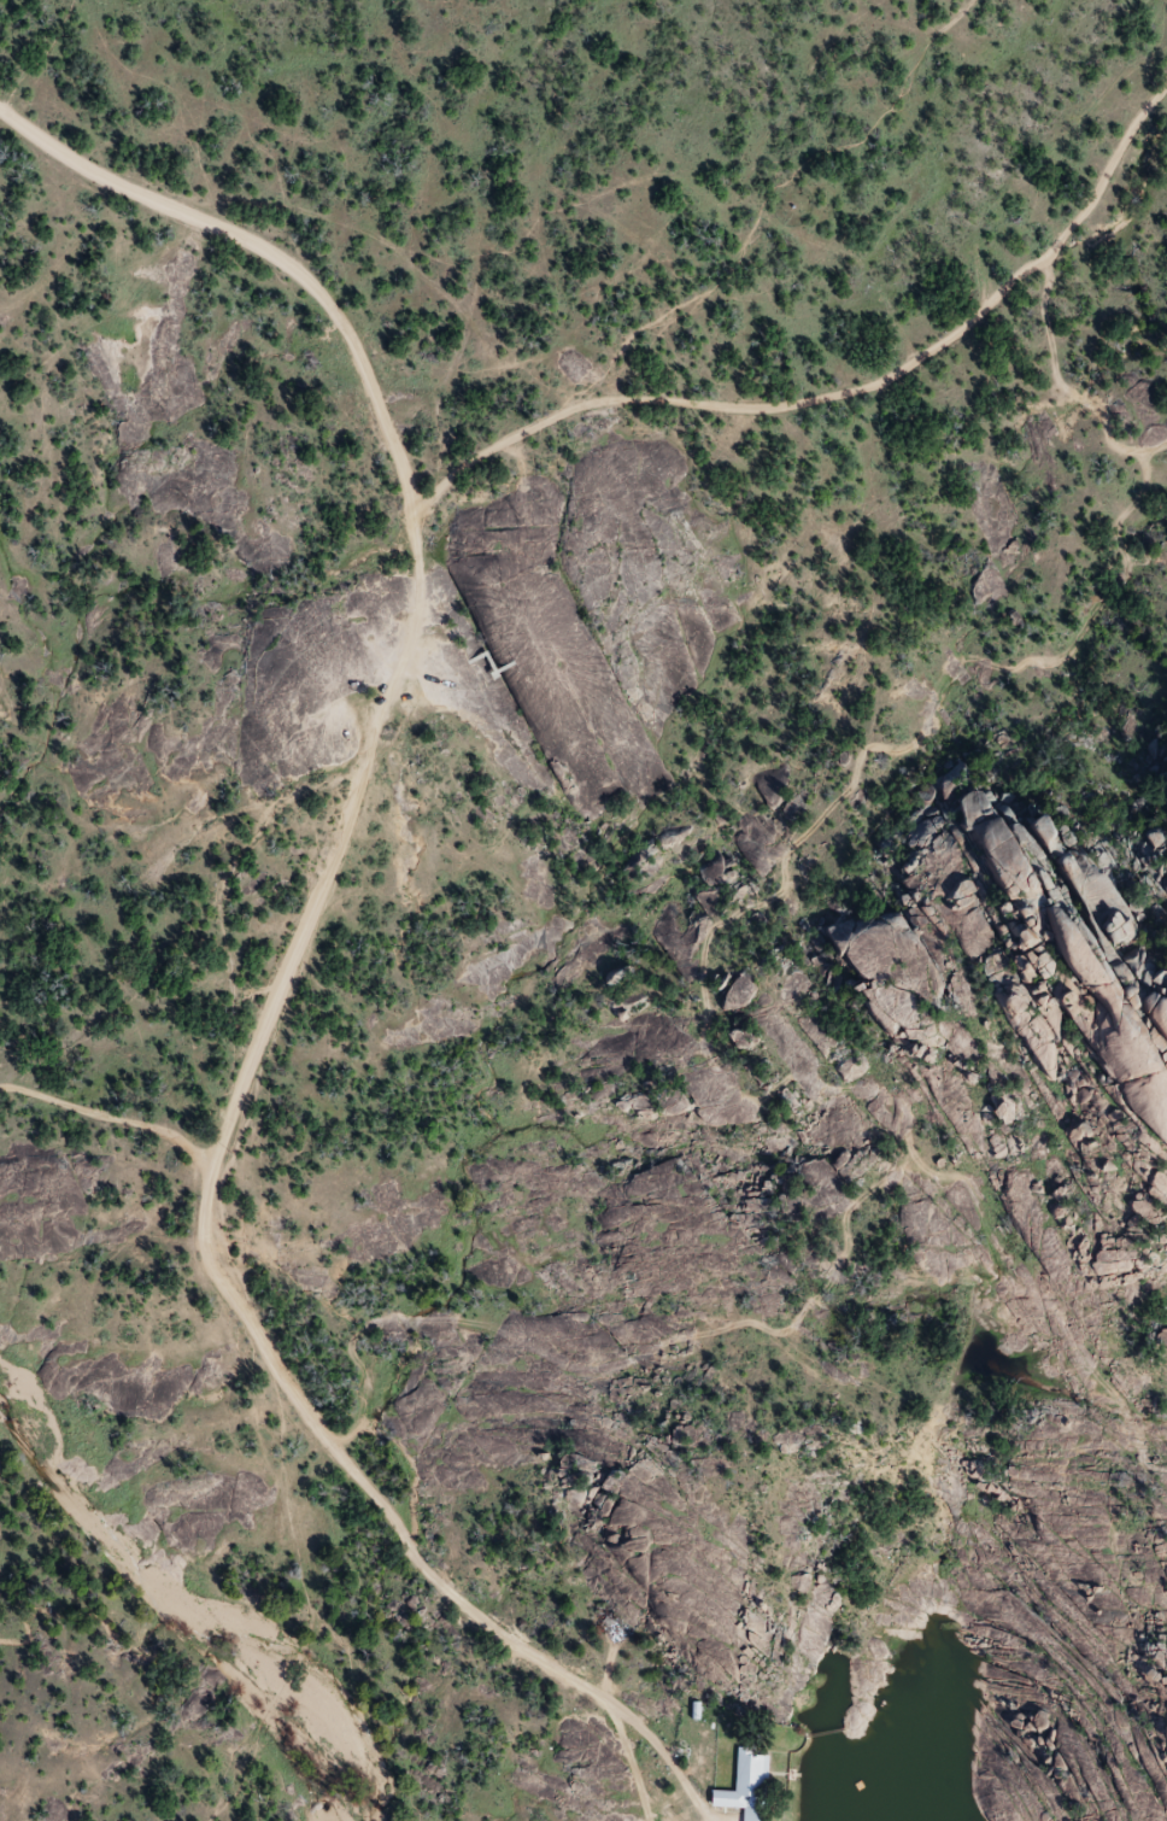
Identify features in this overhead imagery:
road: (127, 193)
road: (933, 352)
road: (491, 450)
building: (1157, 1017)
road: (240, 1097)
building: (746, 1786)

